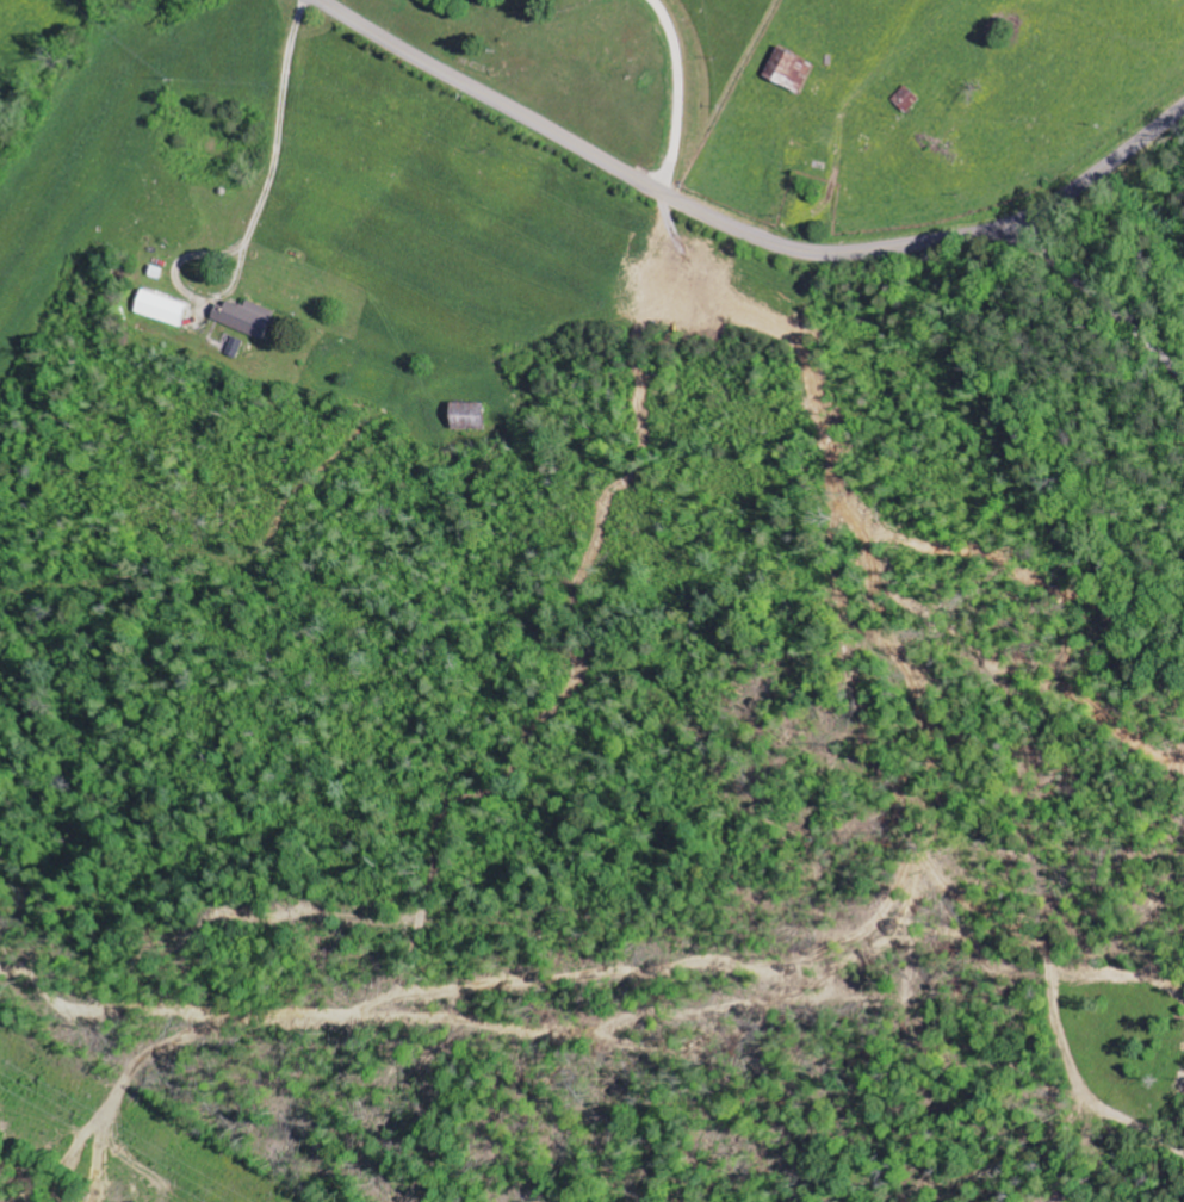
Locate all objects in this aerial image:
road: (743, 231)
road: (1097, 296)
building: (162, 309)
building: (244, 318)
building: (466, 417)

